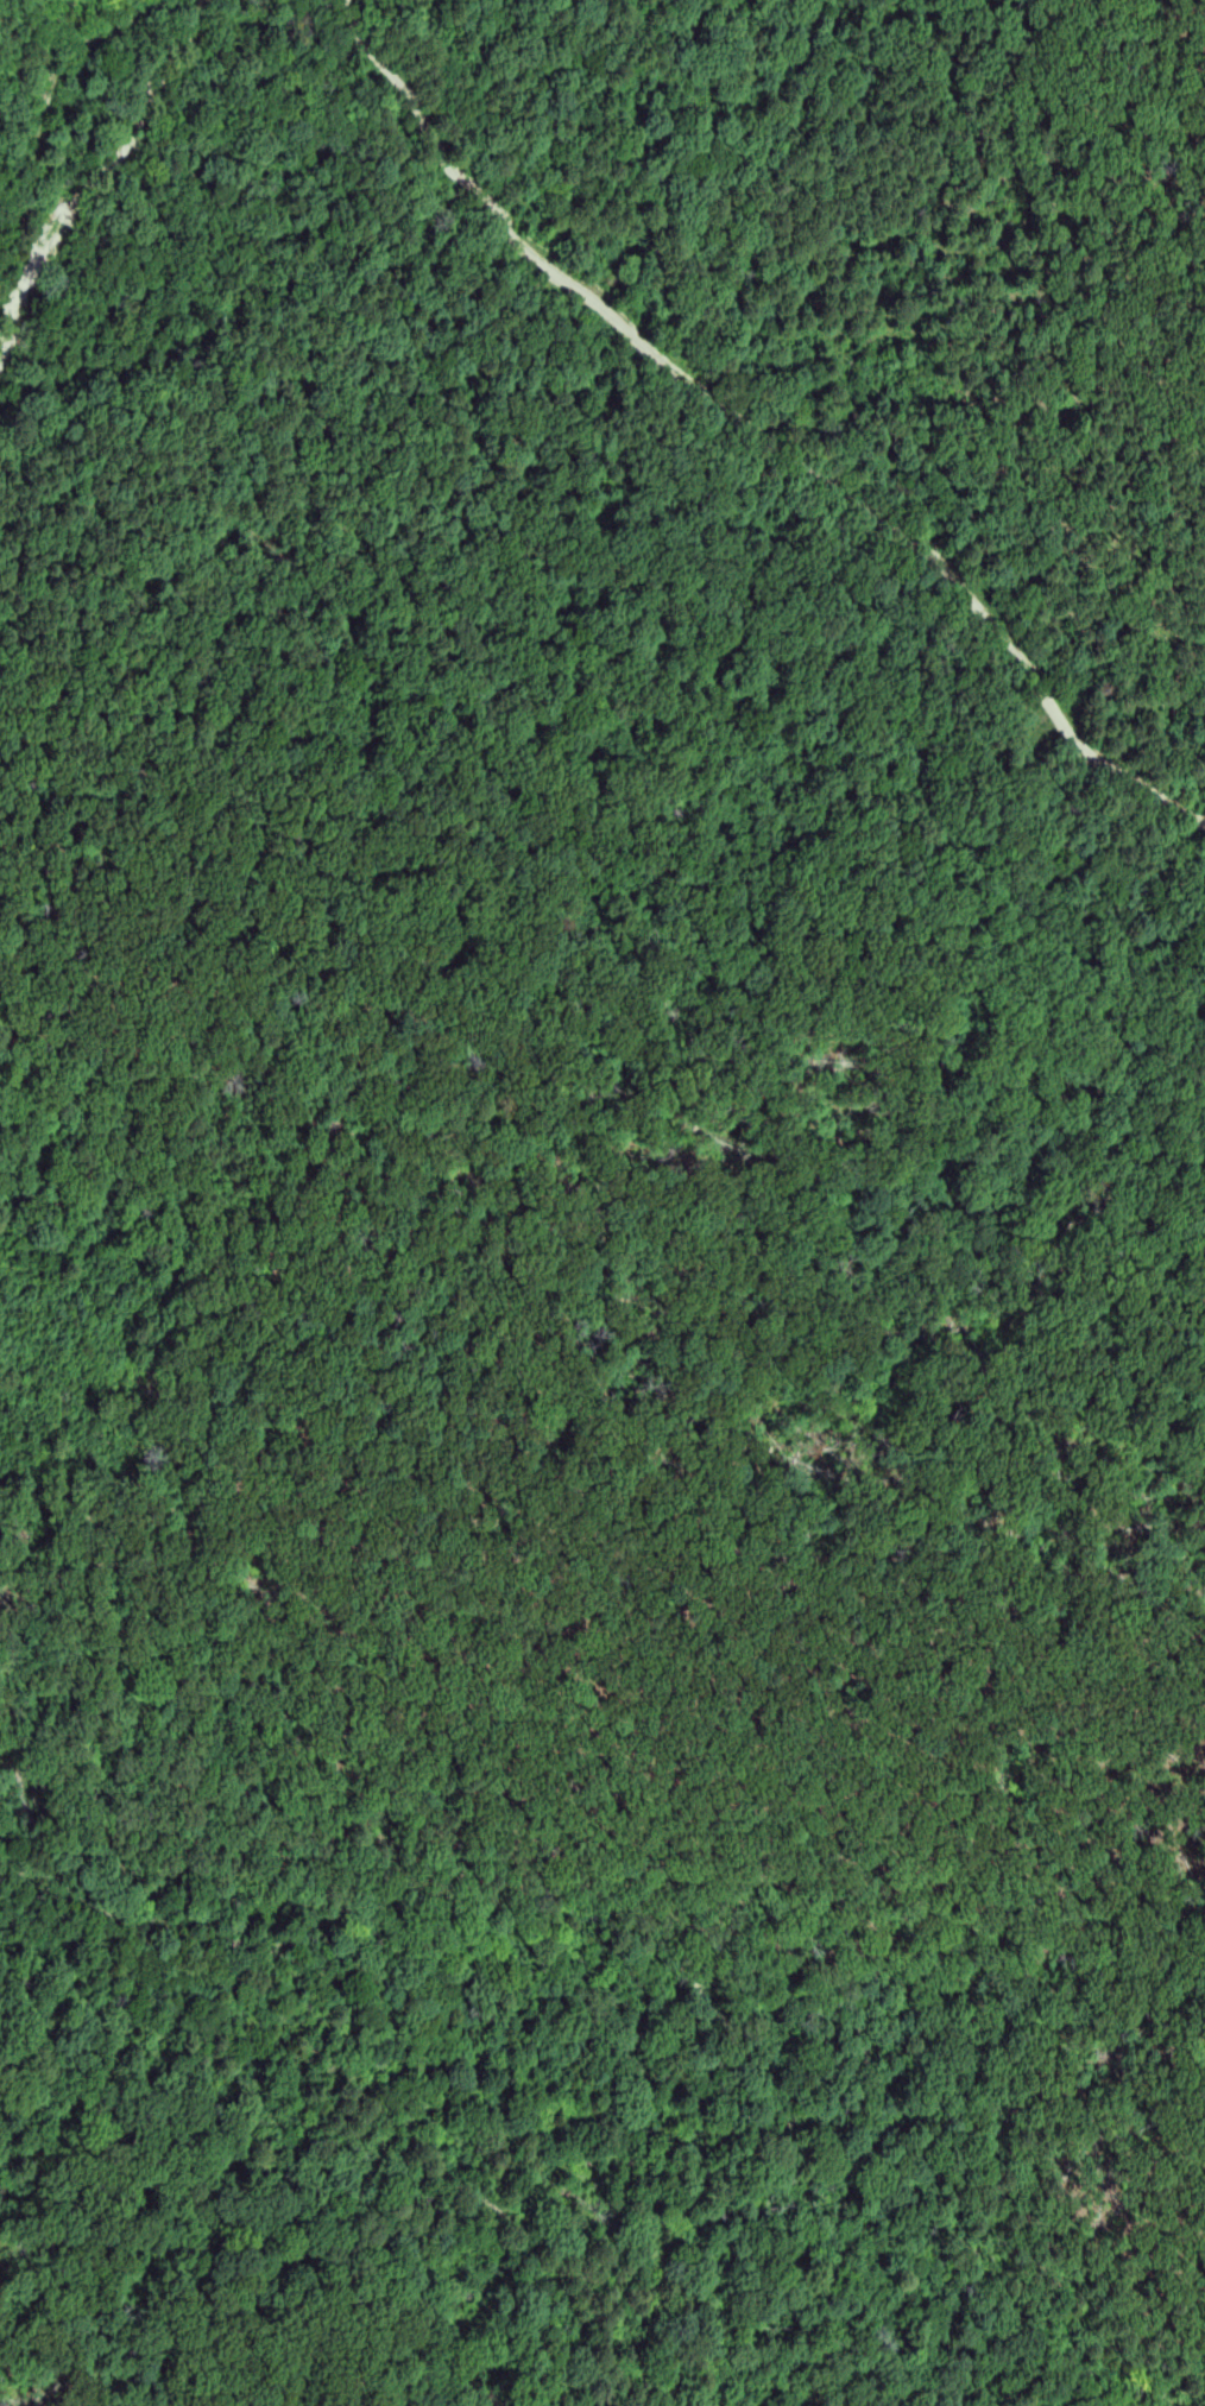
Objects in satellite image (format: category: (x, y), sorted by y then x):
road: (651, 878)

